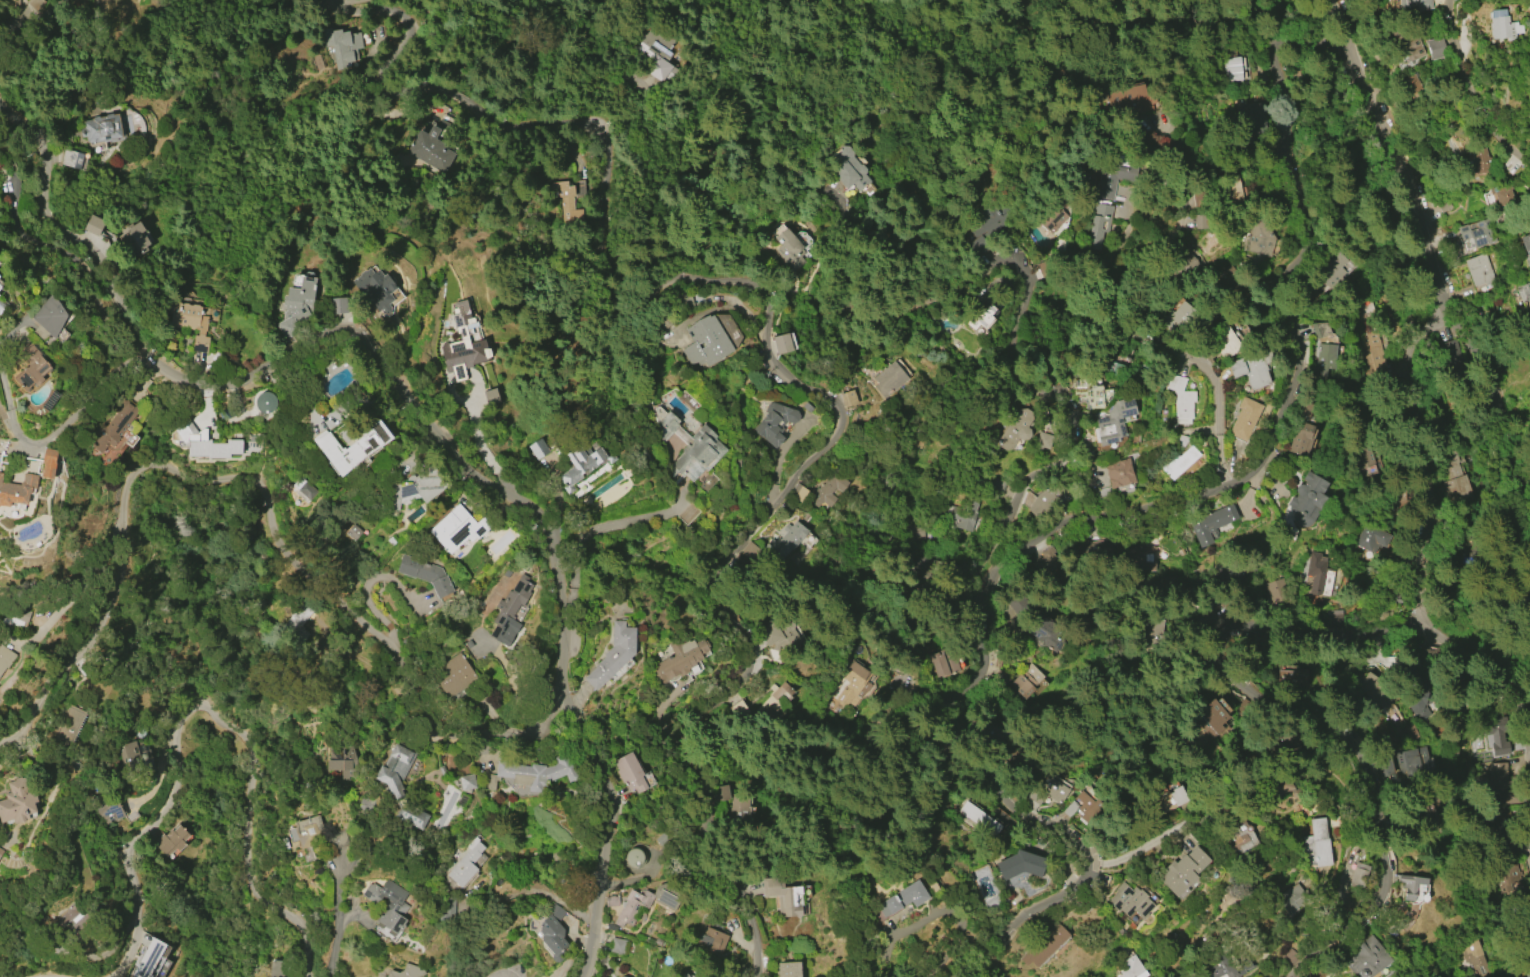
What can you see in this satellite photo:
building: (1415, 3)
road: (34, 15)
road: (1343, 23)
building: (1504, 27)
road: (1279, 29)
building: (1407, 43)
building: (342, 46)
building: (1435, 48)
building: (656, 54)
road: (1313, 57)
road: (1459, 65)
building: (1234, 69)
road: (515, 75)
building: (1132, 100)
road: (1381, 108)
building: (1251, 116)
building: (101, 128)
road: (1511, 144)
building: (431, 146)
building: (72, 159)
building: (1480, 162)
building: (848, 169)
building: (1109, 173)
road: (674, 183)
building: (1228, 189)
building: (1503, 195)
building: (1443, 203)
building: (566, 204)
building: (1052, 215)
building: (1099, 223)
building: (93, 224)
building: (989, 226)
road: (1168, 228)
building: (1478, 232)
building: (1258, 235)
building: (133, 239)
building: (1525, 242)
building: (789, 251)
building: (1192, 263)
building: (1479, 270)
building: (1330, 272)
building: (0, 287)
building: (375, 289)
road: (1280, 289)
building: (2, 306)
building: (297, 306)
building: (338, 306)
building: (979, 318)
building: (1179, 318)
building: (48, 319)
building: (189, 322)
road: (767, 327)
building: (1321, 329)
road: (1014, 331)
road: (1465, 333)
building: (705, 341)
building: (1224, 341)
building: (463, 342)
building: (782, 343)
road: (1160, 344)
building: (1451, 354)
building: (1376, 356)
building: (1324, 359)
road: (1438, 359)
building: (30, 366)
building: (1251, 368)
building: (888, 379)
building: (1090, 391)
building: (490, 397)
building: (847, 398)
building: (1181, 399)
building: (50, 400)
building: (264, 402)
road: (426, 417)
building: (1244, 418)
building: (774, 422)
building: (1112, 422)
building: (114, 426)
building: (1017, 426)
building: (1301, 439)
road: (45, 440)
building: (1043, 440)
building: (211, 447)
building: (353, 447)
building: (691, 448)
building: (538, 449)
building: (48, 462)
building: (1178, 463)
building: (1368, 463)
building: (582, 465)
building: (1119, 473)
building: (1458, 479)
building: (998, 481)
building: (828, 488)
building: (413, 489)
building: (17, 490)
building: (304, 490)
road: (264, 492)
building: (1046, 499)
building: (1307, 500)
building: (960, 515)
road: (599, 524)
building: (1211, 525)
building: (457, 528)
building: (353, 532)
building: (1372, 538)
building: (786, 539)
building: (1095, 549)
building: (1141, 557)
building: (1045, 559)
building: (1316, 571)
building: (1229, 575)
building: (428, 577)
road: (1217, 584)
road: (1424, 587)
building: (1279, 591)
road: (569, 601)
building: (1021, 606)
building: (509, 611)
building: (15, 618)
building: (1334, 619)
building: (297, 621)
building: (1223, 625)
building: (1042, 632)
building: (781, 635)
building: (613, 655)
building: (5, 658)
building: (680, 659)
building: (944, 662)
building: (453, 675)
building: (999, 677)
building: (1293, 679)
building: (1026, 681)
building: (853, 684)
building: (1374, 690)
building: (779, 691)
building: (766, 712)
road: (206, 713)
road: (949, 714)
building: (1213, 719)
road: (1330, 724)
building: (68, 725)
building: (137, 730)
building: (1409, 733)
building: (1496, 736)
building: (135, 756)
building: (1411, 762)
building: (343, 763)
building: (395, 769)
building: (629, 772)
building: (532, 773)
building: (1499, 777)
building: (461, 781)
building: (1277, 787)
building: (1048, 791)
building: (720, 792)
building: (1170, 799)
building: (18, 801)
building: (1082, 806)
building: (740, 807)
building: (111, 810)
building: (412, 816)
building: (979, 818)
building: (1497, 823)
building: (319, 833)
building: (1240, 838)
building: (171, 840)
building: (1314, 844)
road: (1139, 847)
building: (1, 851)
building: (634, 858)
building: (465, 863)
building: (1021, 865)
building: (1183, 872)
building: (1358, 876)
building: (932, 886)
building: (1412, 886)
building: (782, 896)
building: (903, 898)
building: (1290, 899)
building: (1130, 901)
building: (642, 903)
building: (388, 904)
building: (446, 909)
building: (69, 914)
road: (340, 920)
building: (552, 932)
building: (708, 939)
building: (1045, 945)
building: (618, 946)
building: (148, 958)
building: (1368, 959)
building: (1476, 959)
building: (1220, 967)
building: (277, 968)
building: (1131, 968)
building: (788, 969)
building: (406, 971)
road: (62, 975)
building: (684, 975)
building: (617, 976)
building: (622, 976)
building: (693, 976)

